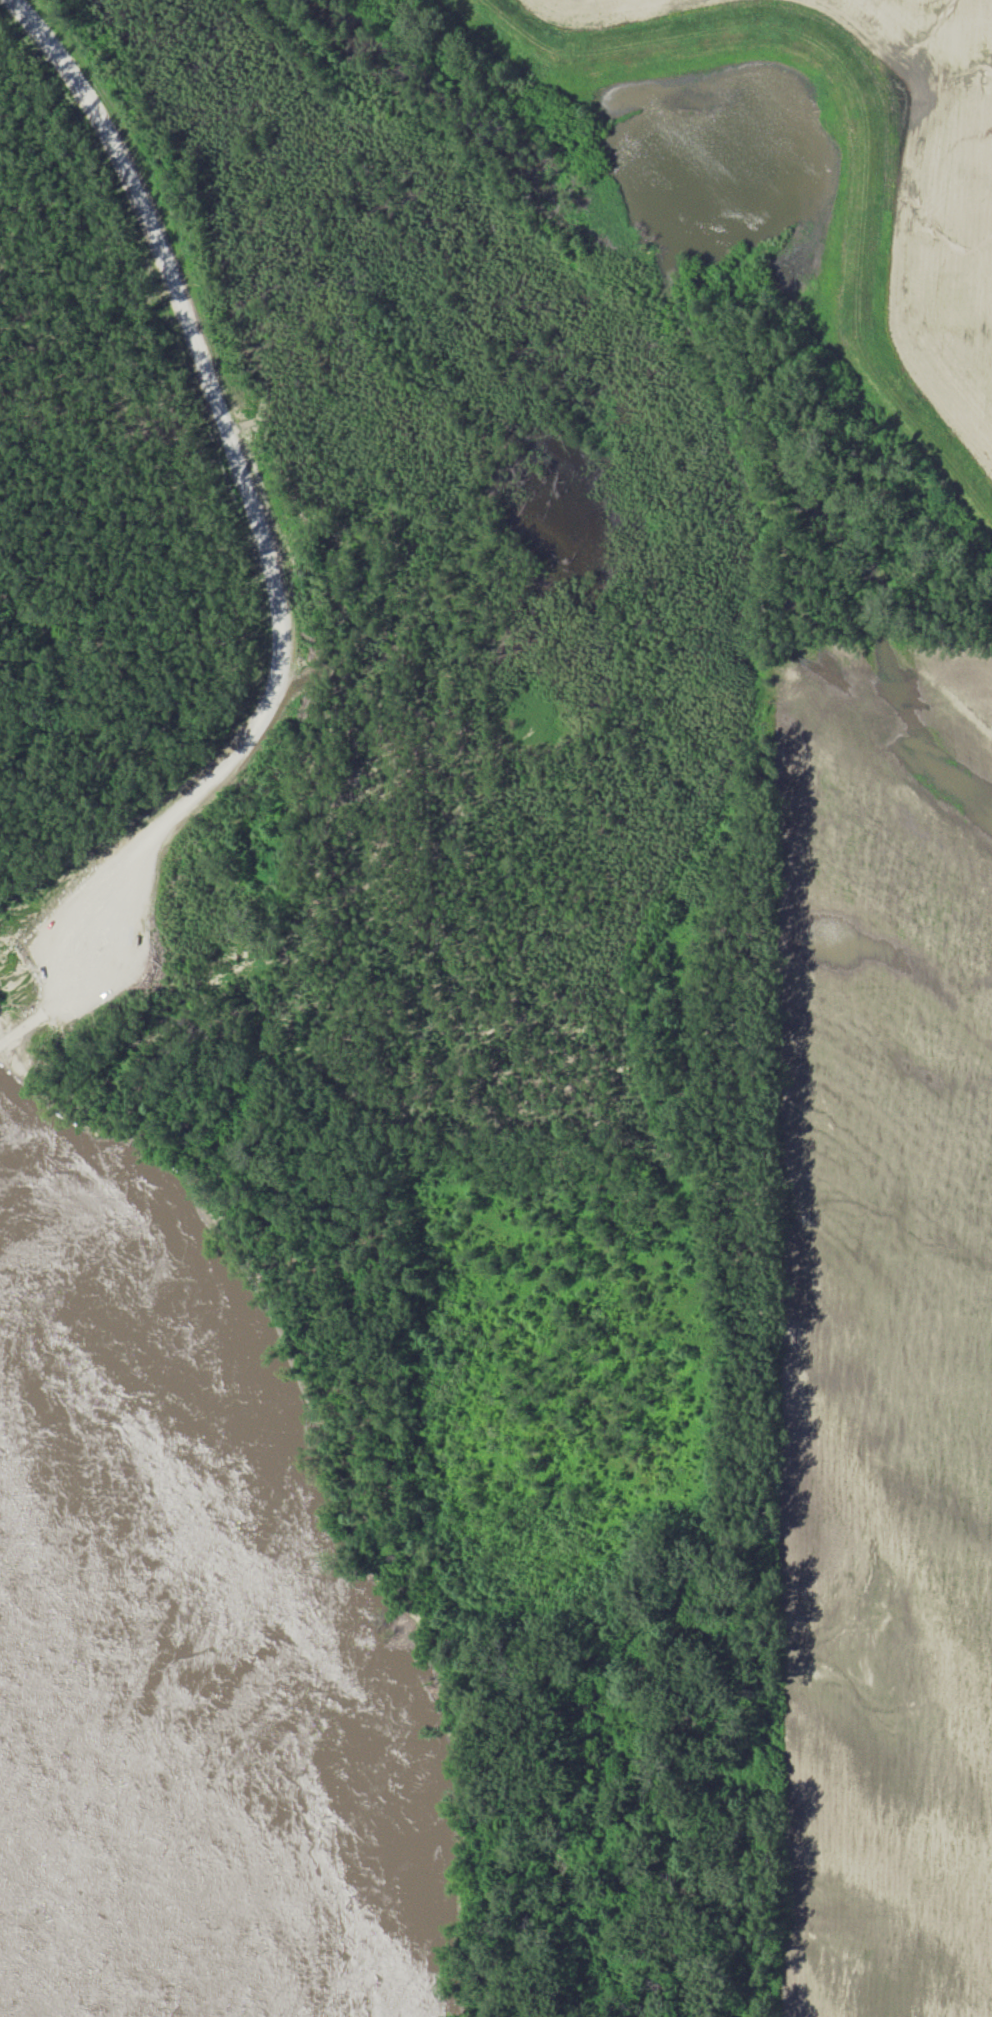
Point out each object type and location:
crop: (605, 10)
crop: (941, 198)
road: (231, 444)
parking lot: (107, 956)
road: (95, 990)
crop: (882, 1350)

